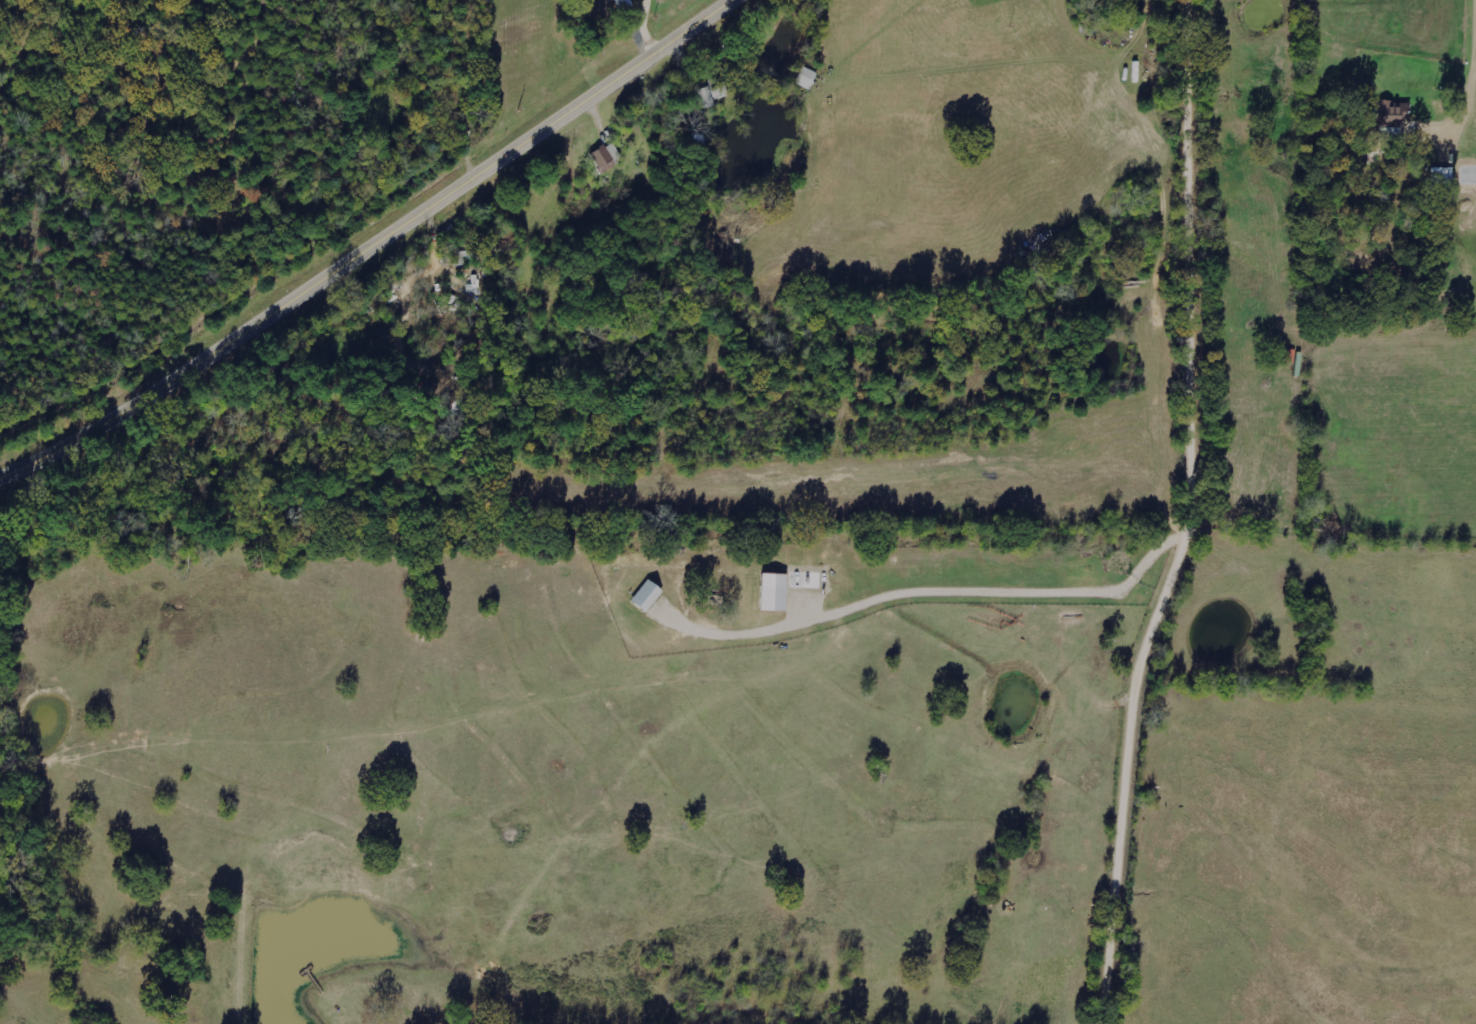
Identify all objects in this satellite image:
building: (807, 78)
road: (472, 85)
building: (713, 94)
building: (1386, 115)
building: (607, 159)
building: (1441, 175)
road: (369, 244)
road: (1202, 517)
building: (776, 592)

